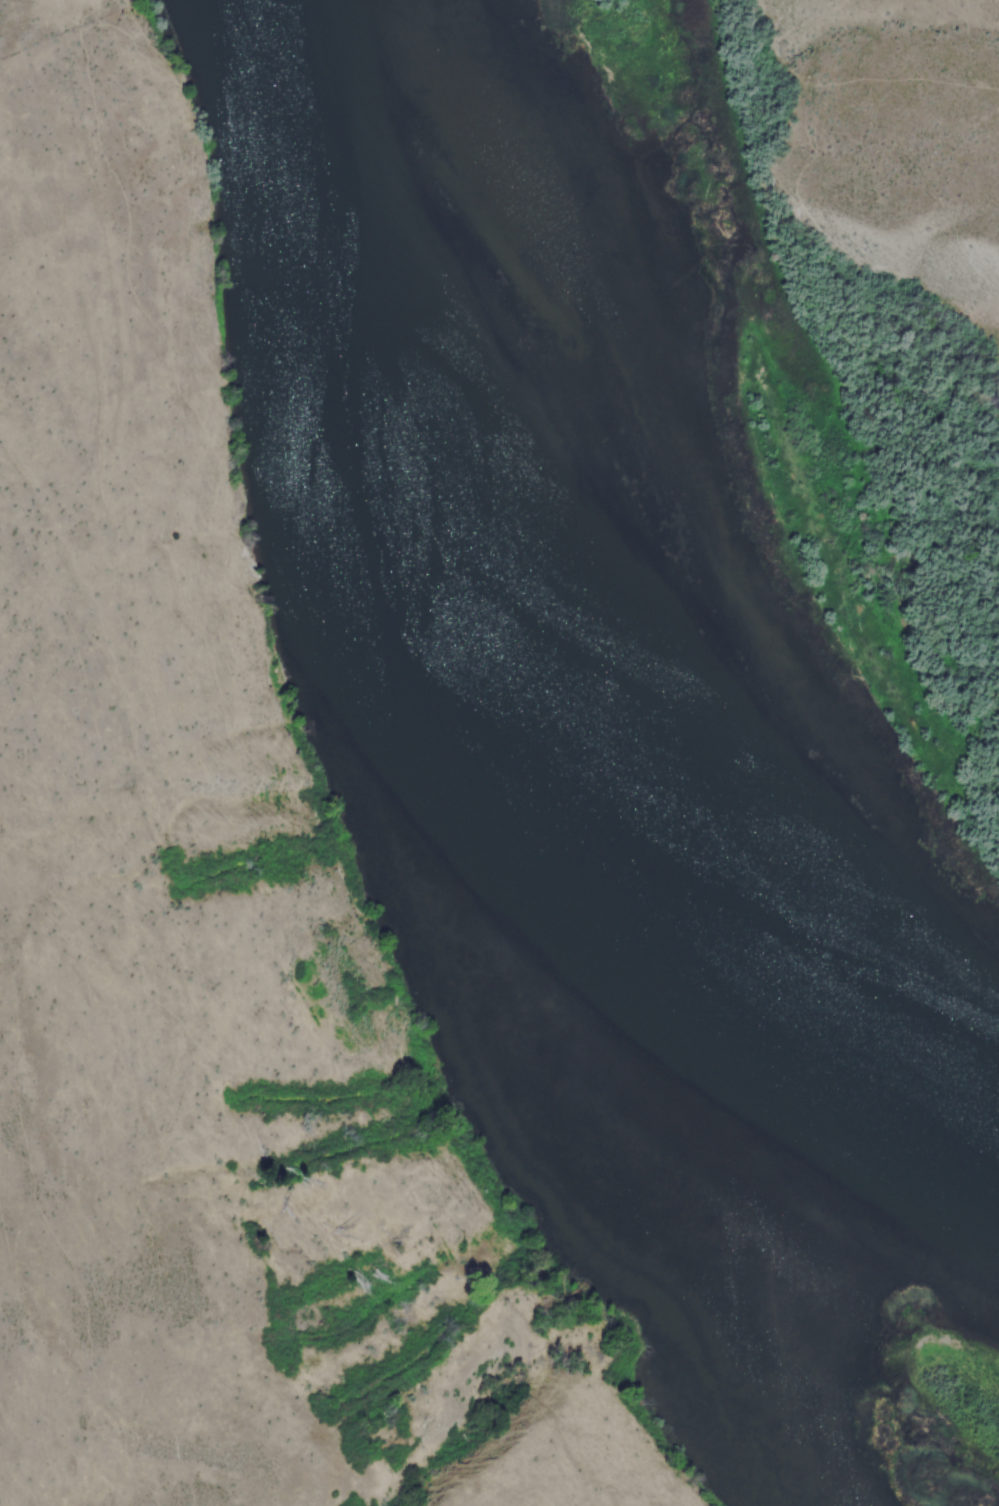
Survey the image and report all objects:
river: (451, 708)

